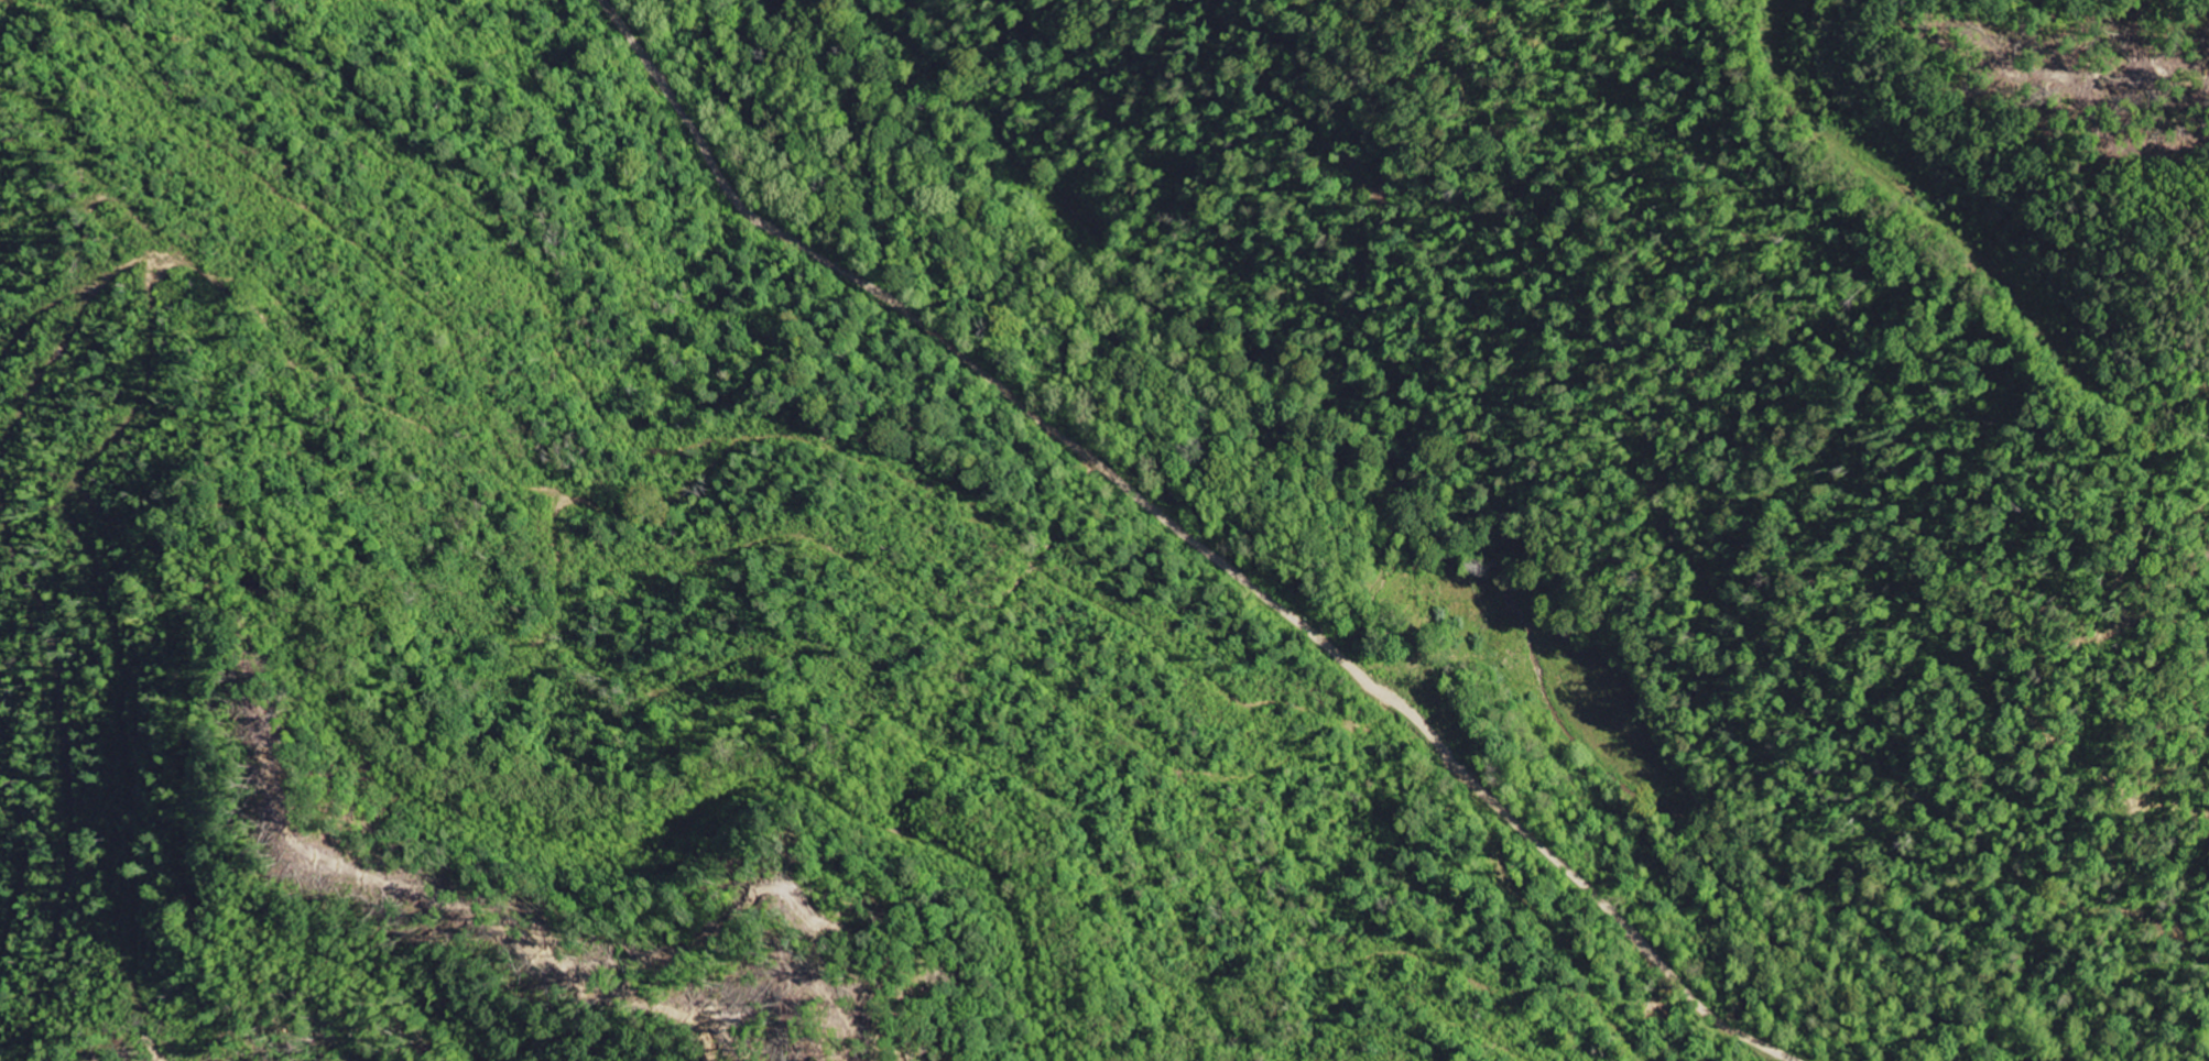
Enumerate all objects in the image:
road: (1190, 532)

